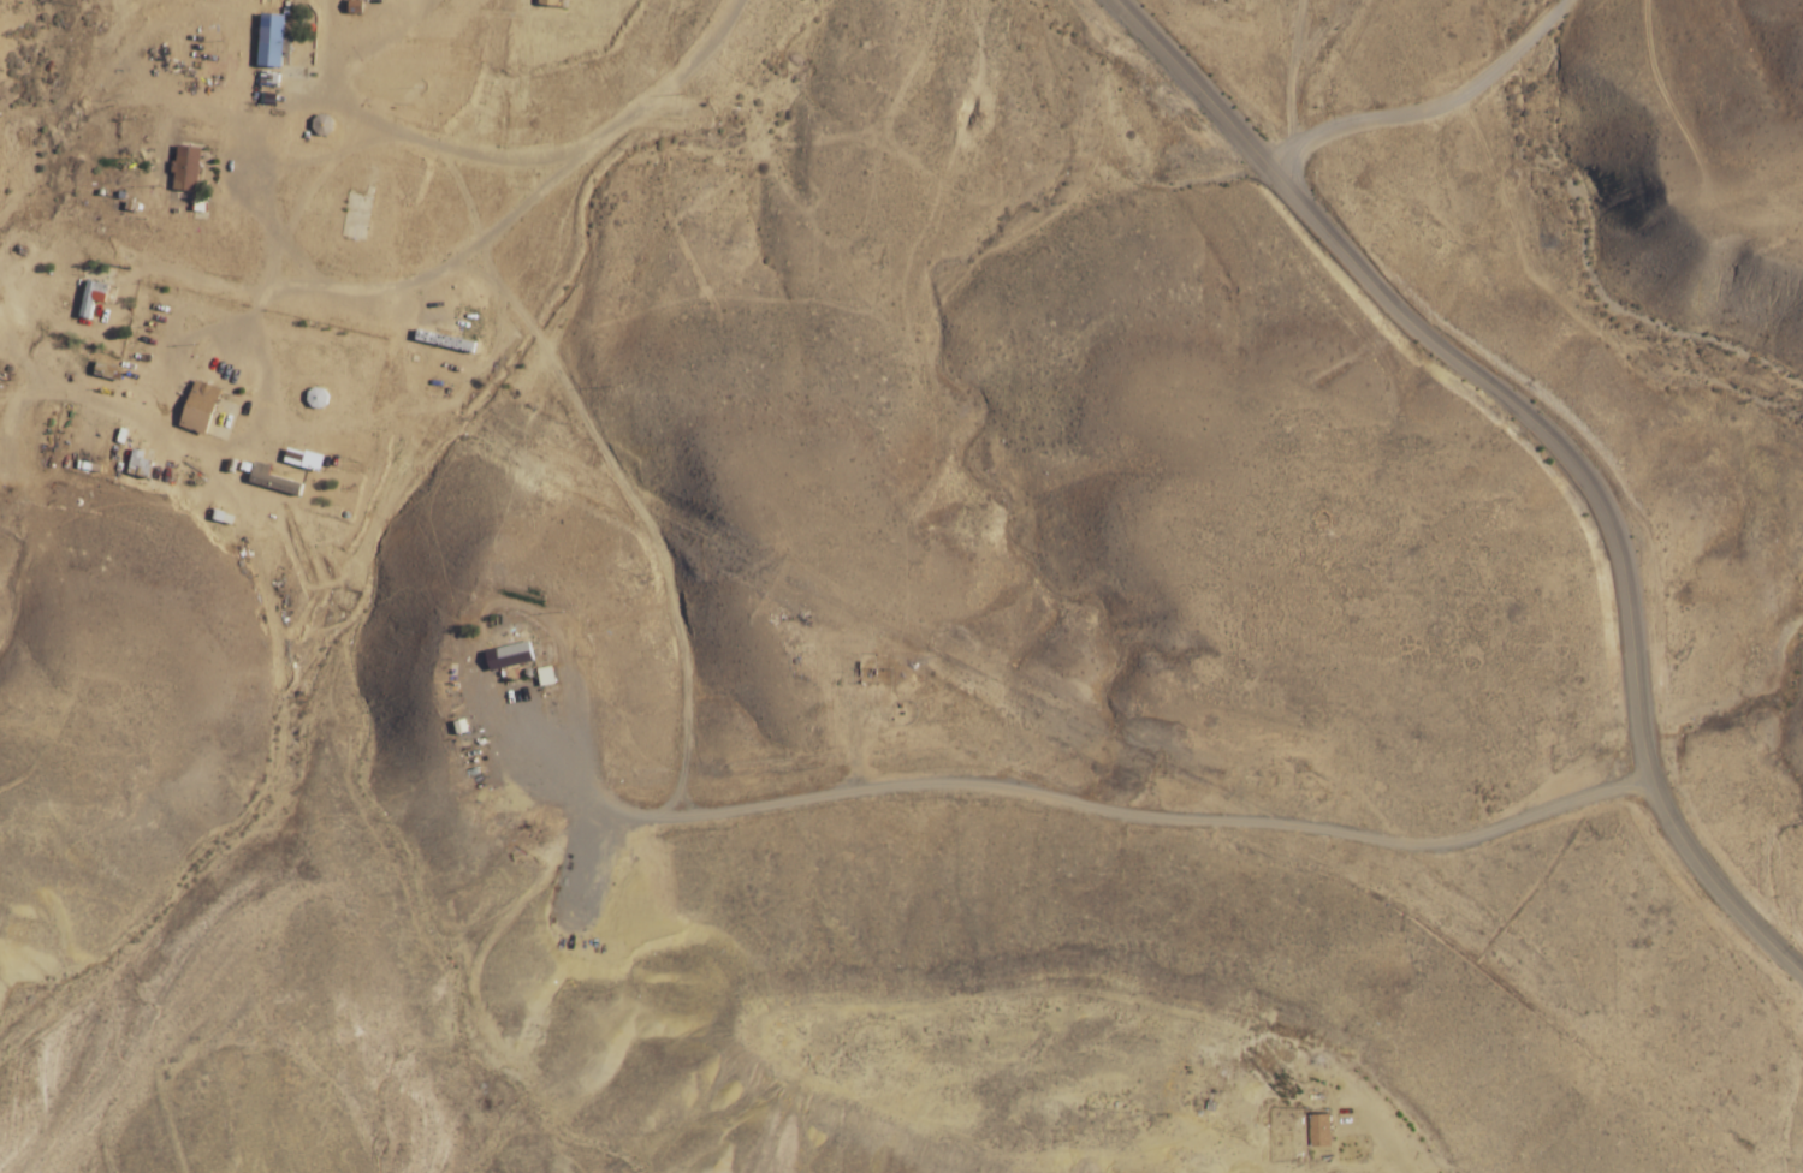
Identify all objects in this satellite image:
building: (554, 2)
building: (269, 40)
road: (1292, 95)
building: (185, 167)
building: (356, 218)
building: (91, 296)
building: (444, 341)
building: (315, 397)
building: (200, 401)
road: (1558, 427)
building: (273, 480)
building: (514, 654)
building: (1321, 1130)

